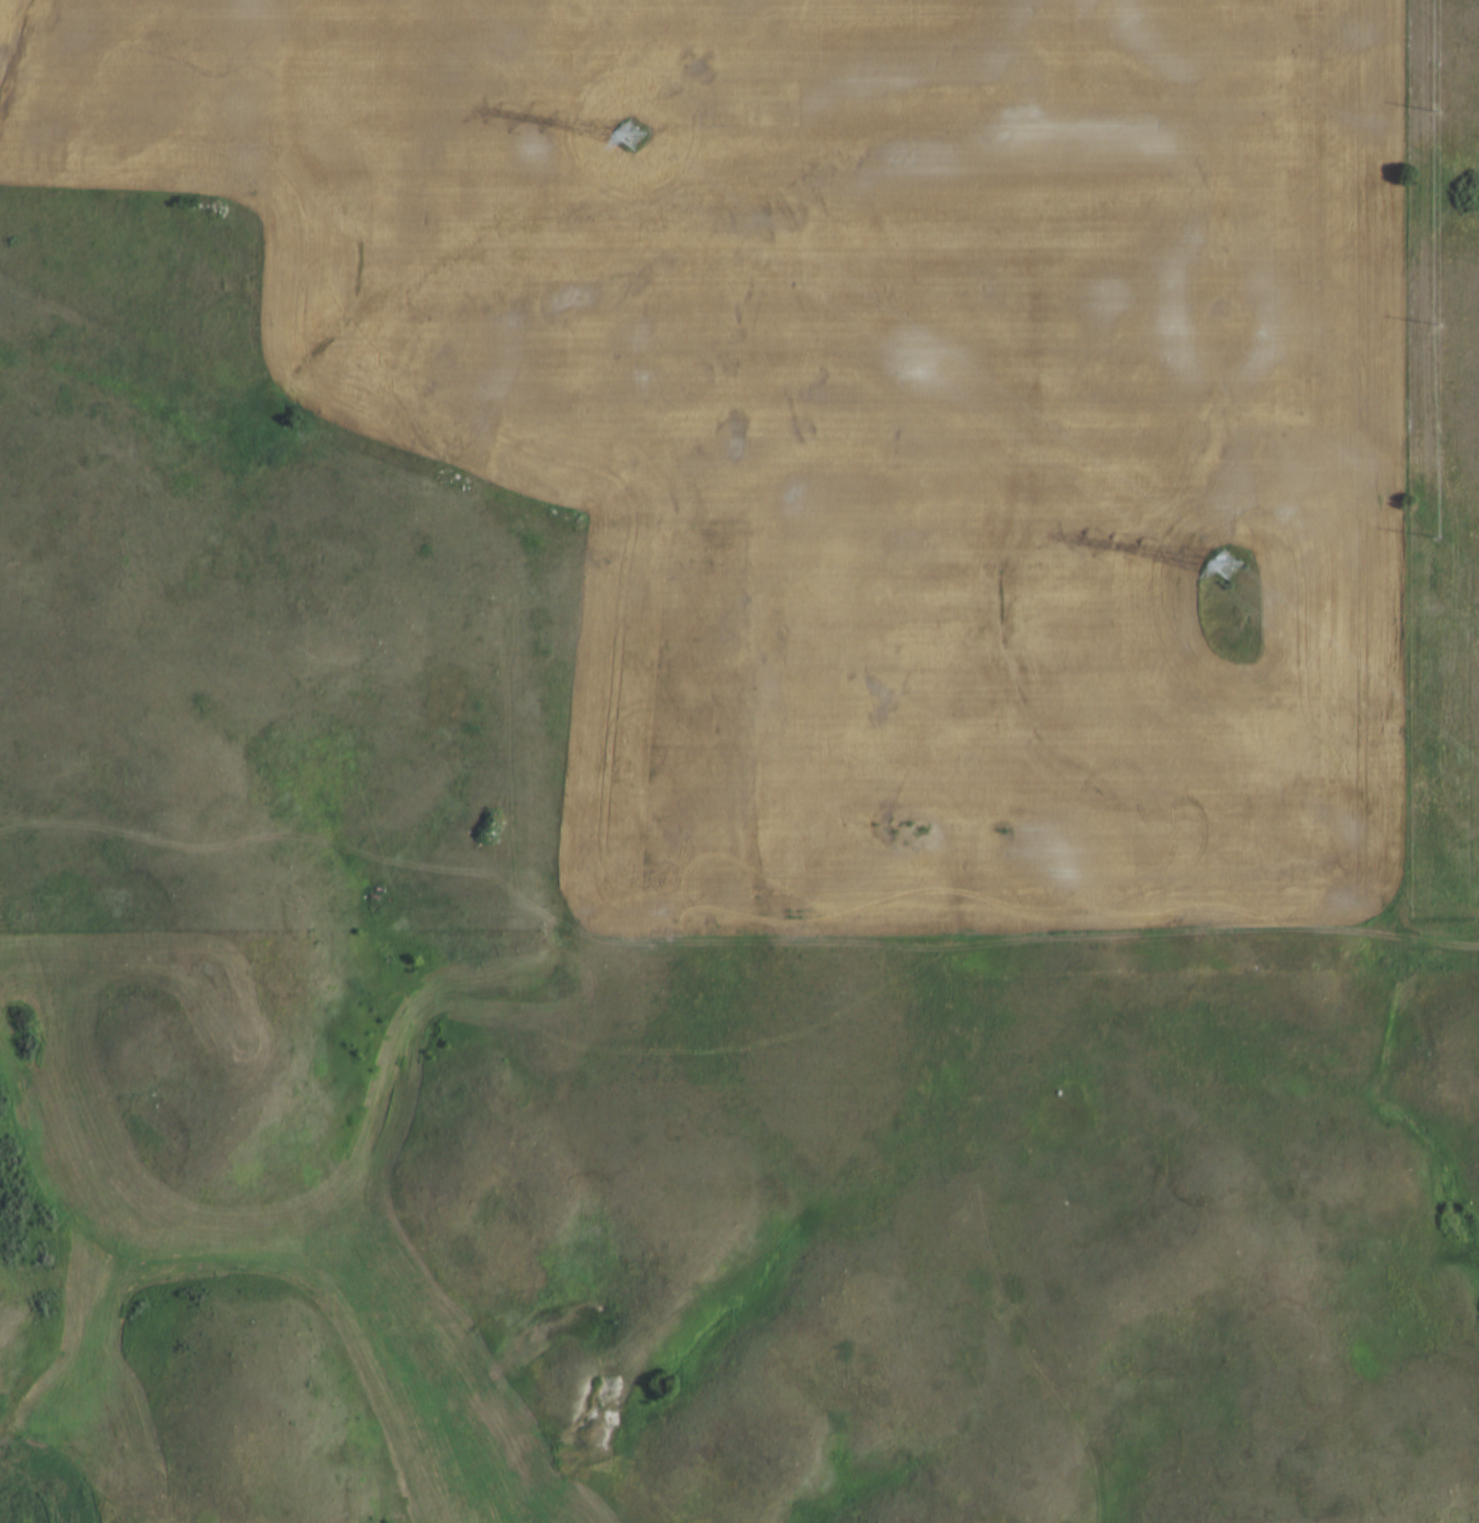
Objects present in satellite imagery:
power tower: (637, 141)
power tower: (1235, 563)
road: (1232, 944)

